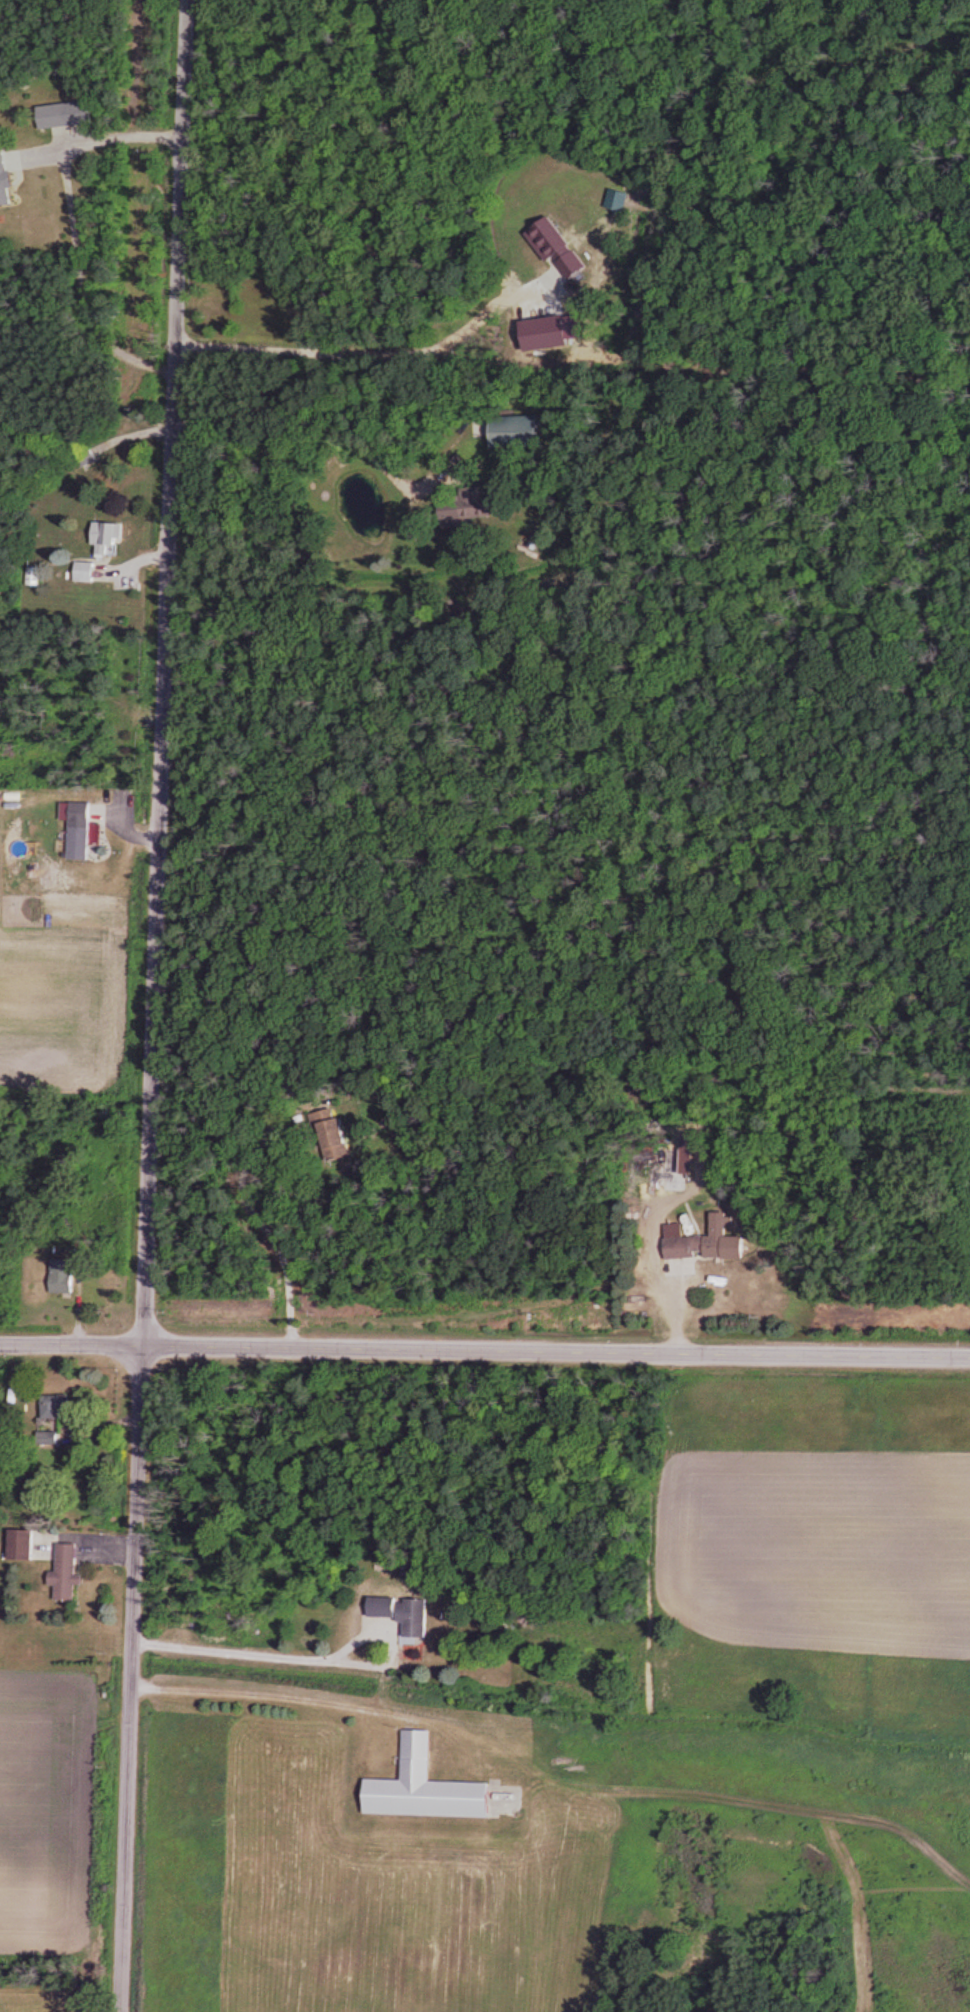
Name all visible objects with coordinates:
building: (55, 115)
building: (8, 178)
building: (612, 199)
road: (69, 229)
building: (560, 248)
road: (351, 354)
road: (312, 420)
building: (531, 430)
building: (489, 507)
building: (108, 539)
building: (86, 571)
building: (85, 831)
road: (151, 1005)
building: (336, 1129)
building: (678, 1161)
building: (646, 1169)
road: (242, 1204)
building: (712, 1244)
building: (64, 1276)
road: (485, 1349)
building: (58, 1404)
building: (23, 1544)
building: (69, 1571)
building: (397, 1612)
road: (260, 1654)
road: (271, 1694)
building: (417, 1786)

